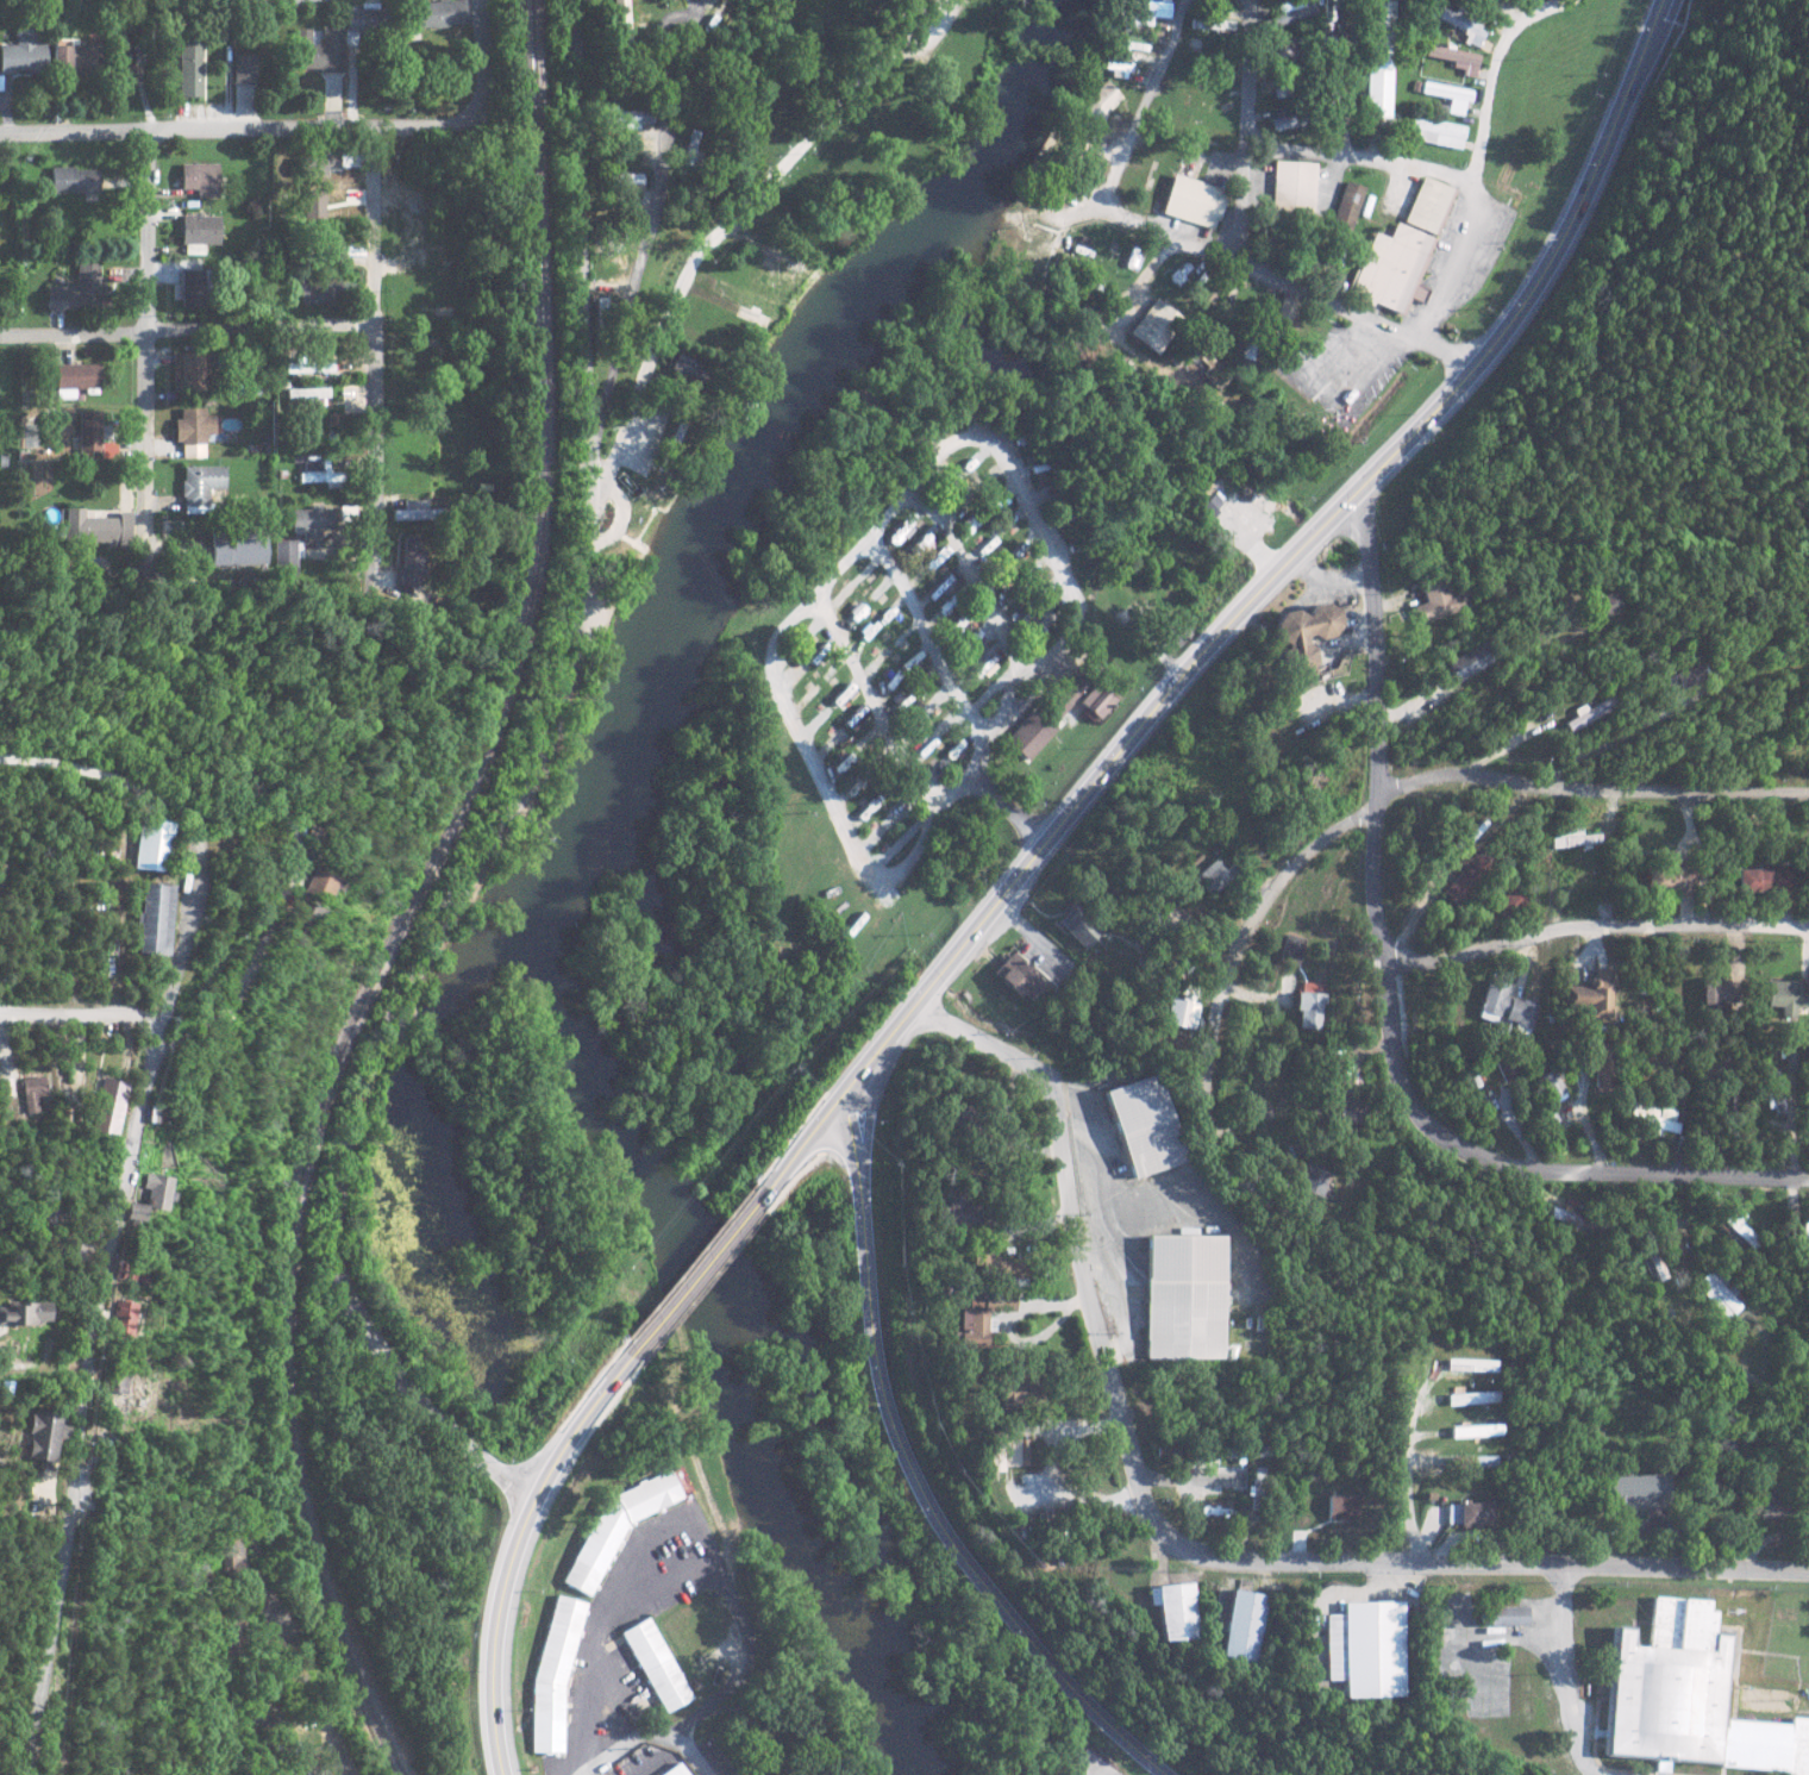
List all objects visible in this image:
building: (1332, 10)
building: (1291, 11)
building: (437, 12)
building: (1140, 12)
building: (365, 18)
building: (619, 18)
road: (921, 23)
building: (1212, 23)
building: (1461, 23)
building: (1031, 27)
building: (318, 49)
building: (1287, 49)
building: (21, 52)
building: (75, 56)
building: (1378, 56)
building: (1453, 56)
building: (634, 57)
building: (188, 62)
building: (243, 67)
road: (666, 81)
road: (686, 83)
building: (1282, 89)
building: (1445, 90)
building: (1101, 101)
park: (863, 112)
building: (626, 115)
building: (1287, 118)
building: (1436, 125)
road: (296, 127)
road: (1245, 132)
road: (1478, 155)
road: (1359, 162)
building: (624, 176)
building: (199, 177)
building: (73, 179)
building: (1290, 187)
building: (1193, 200)
building: (1348, 202)
building: (1428, 206)
building: (199, 232)
road: (712, 248)
building: (1394, 265)
road: (1263, 273)
building: (846, 281)
building: (193, 287)
building: (80, 288)
building: (317, 292)
road: (633, 310)
building: (1284, 311)
building: (1156, 324)
road: (189, 329)
building: (1254, 331)
road: (151, 335)
building: (1207, 363)
building: (308, 364)
building: (188, 370)
building: (700, 371)
road: (380, 374)
building: (76, 376)
building: (308, 390)
building: (745, 411)
building: (90, 430)
building: (194, 430)
building: (1039, 449)
building: (976, 461)
building: (320, 470)
building: (1047, 473)
building: (989, 482)
building: (951, 483)
building: (202, 486)
road: (899, 496)
building: (1054, 496)
building: (1209, 504)
building: (999, 505)
building: (963, 507)
building: (413, 510)
road: (821, 514)
building: (314, 521)
building: (1007, 524)
building: (98, 526)
building: (903, 529)
building: (972, 529)
building: (1069, 529)
building: (240, 548)
building: (915, 548)
building: (1076, 549)
building: (981, 550)
building: (1021, 550)
building: (287, 552)
building: (414, 562)
building: (928, 563)
building: (1032, 569)
building: (866, 571)
road: (968, 574)
building: (997, 580)
building: (938, 583)
building: (878, 592)
building: (841, 593)
building: (1044, 593)
road: (1250, 593)
building: (1436, 601)
building: (947, 602)
building: (1007, 602)
building: (1604, 604)
building: (855, 615)
building: (888, 615)
building: (1050, 619)
building: (956, 623)
building: (1020, 624)
building: (1302, 633)
road: (926, 636)
building: (902, 638)
building: (864, 639)
building: (794, 640)
building: (1027, 645)
building: (965, 646)
building: (822, 650)
building: (914, 658)
building: (878, 661)
building: (1467, 661)
building: (976, 667)
road: (1016, 671)
building: (833, 673)
building: (799, 674)
road: (1485, 676)
building: (926, 677)
building: (1682, 677)
building: (890, 680)
building: (990, 690)
building: (844, 694)
building: (806, 698)
building: (903, 699)
road: (874, 700)
building: (934, 701)
building: (1589, 712)
building: (1059, 713)
building: (857, 718)
building: (818, 720)
building: (950, 721)
building: (914, 724)
building: (833, 740)
building: (871, 744)
building: (928, 744)
building: (957, 745)
building: (876, 761)
building: (844, 767)
building: (935, 767)
building: (851, 787)
building: (889, 788)
road: (1588, 792)
road: (525, 800)
building: (901, 807)
building: (865, 811)
building: (875, 831)
building: (1573, 839)
building: (897, 843)
building: (149, 844)
river: (575, 858)
building: (1212, 875)
building: (1660, 877)
building: (1764, 877)
building: (315, 883)
building: (1453, 889)
railway: (412, 899)
building: (1509, 901)
road: (281, 902)
building: (152, 918)
building: (1077, 925)
road: (1592, 930)
building: (1290, 949)
building: (1021, 976)
building: (1714, 990)
building: (1589, 994)
building: (1788, 995)
road: (1225, 1004)
road: (1385, 1004)
building: (1310, 1005)
building: (1506, 1007)
building: (1184, 1010)
road: (82, 1017)
building: (1603, 1067)
building: (1552, 1085)
building: (1774, 1090)
building: (31, 1093)
building: (105, 1106)
building: (1653, 1115)
building: (960, 1119)
building: (1145, 1124)
building: (1313, 1179)
building: (156, 1189)
road: (124, 1190)
building: (132, 1211)
building: (954, 1212)
building: (1741, 1227)
building: (1805, 1231)
road: (712, 1251)
building: (1653, 1256)
building: (1001, 1268)
building: (1720, 1293)
building: (1182, 1296)
building: (20, 1313)
building: (123, 1315)
building: (978, 1318)
road: (1776, 1390)
building: (1016, 1393)
building: (1469, 1396)
building: (1475, 1430)
building: (40, 1435)
building: (1006, 1454)
road: (914, 1474)
road: (1409, 1482)
building: (1635, 1493)
building: (1341, 1507)
building: (1770, 1508)
building: (1476, 1514)
building: (620, 1525)
road: (1172, 1542)
road: (517, 1543)
building: (229, 1554)
building: (1177, 1610)
building: (1498, 1614)
building: (1241, 1625)
park: (1785, 1630)
road: (608, 1636)
building: (1365, 1650)
building: (658, 1664)
road: (1569, 1673)
building: (555, 1674)
road: (327, 1689)
building: (1688, 1699)
building: (284, 1751)
building: (299, 1768)
building: (677, 1770)
road: (593, 1773)

